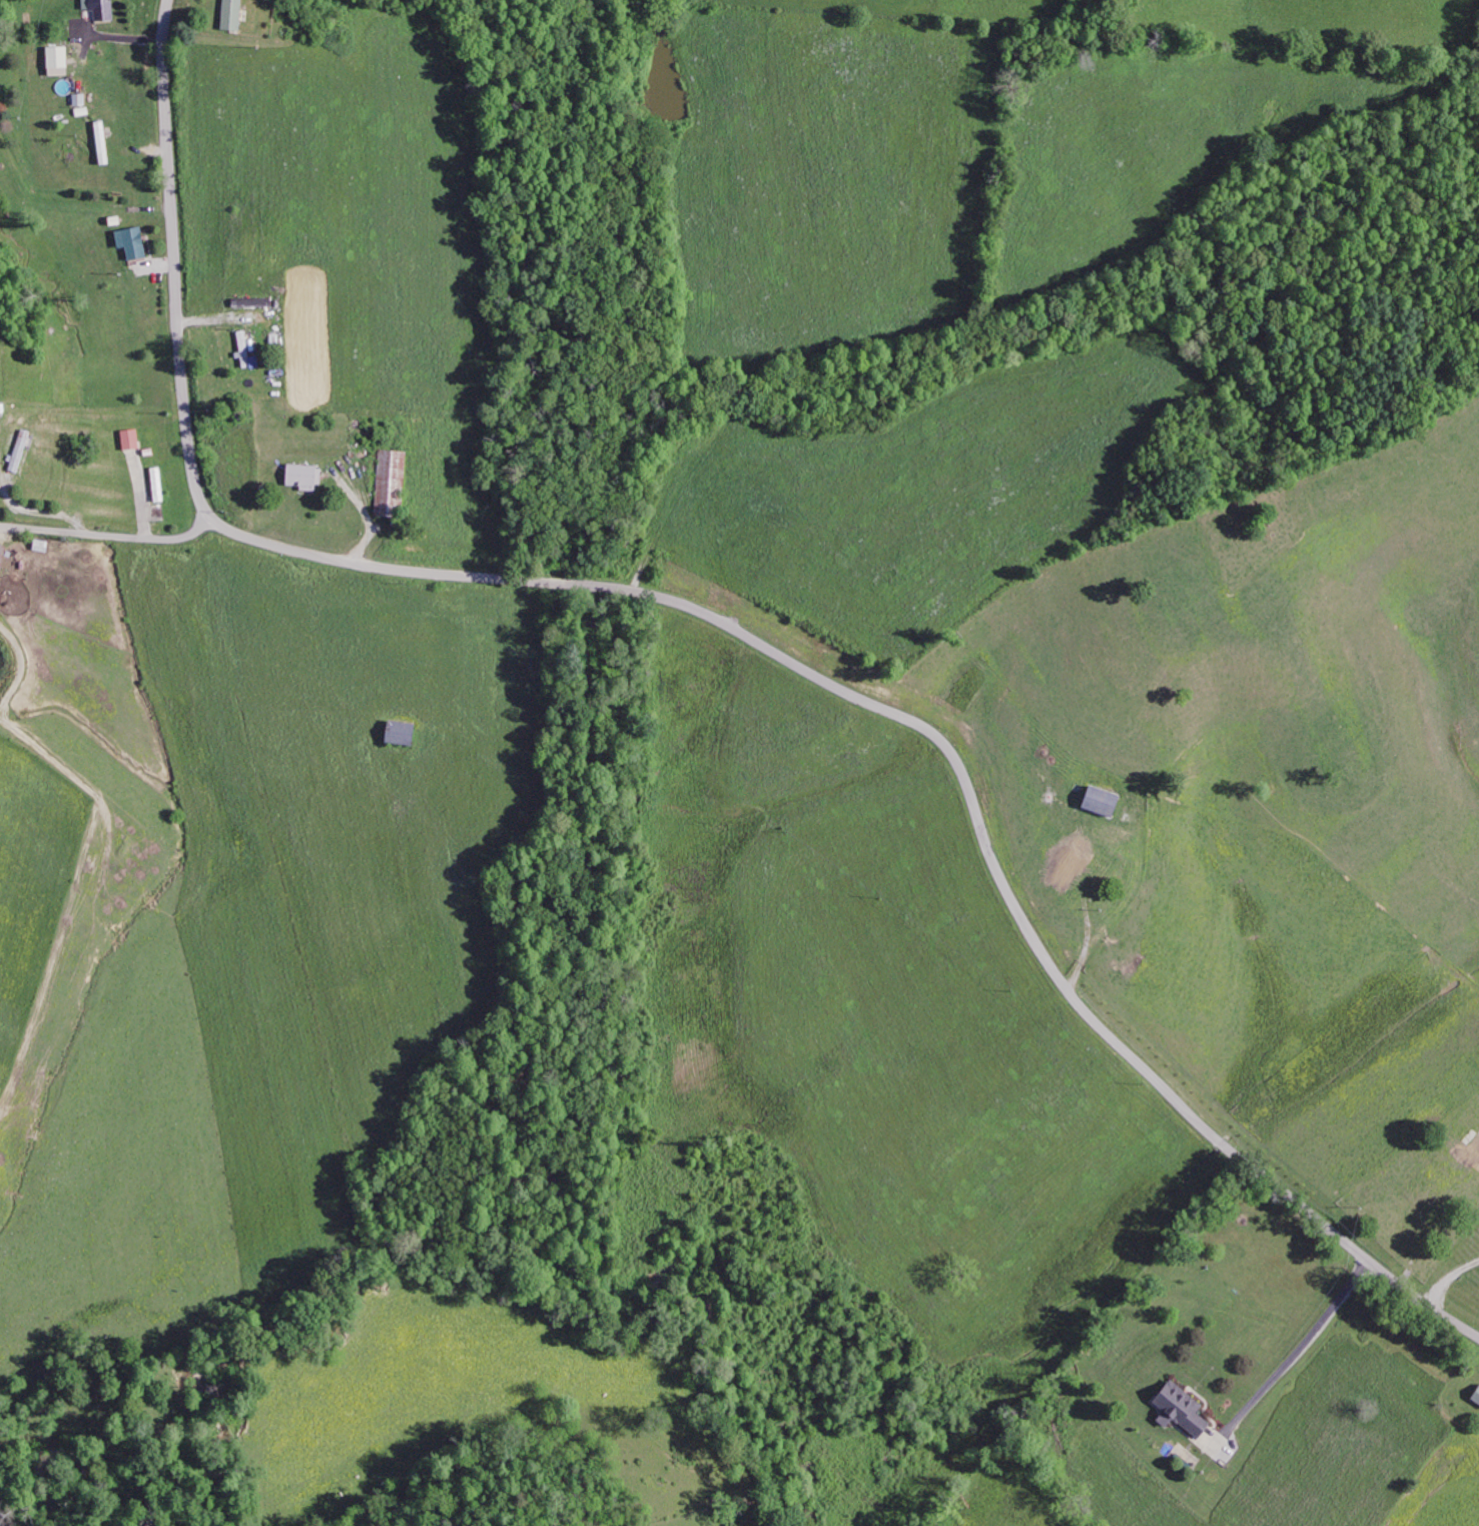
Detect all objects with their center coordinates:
building: (99, 9)
building: (229, 14)
building: (56, 57)
building: (128, 242)
building: (128, 439)
building: (19, 451)
building: (300, 477)
building: (389, 479)
building: (156, 484)
road: (110, 537)
building: (0, 551)
road: (733, 624)
building: (395, 733)
building: (1061, 869)
building: (1474, 1394)
building: (1176, 1408)

